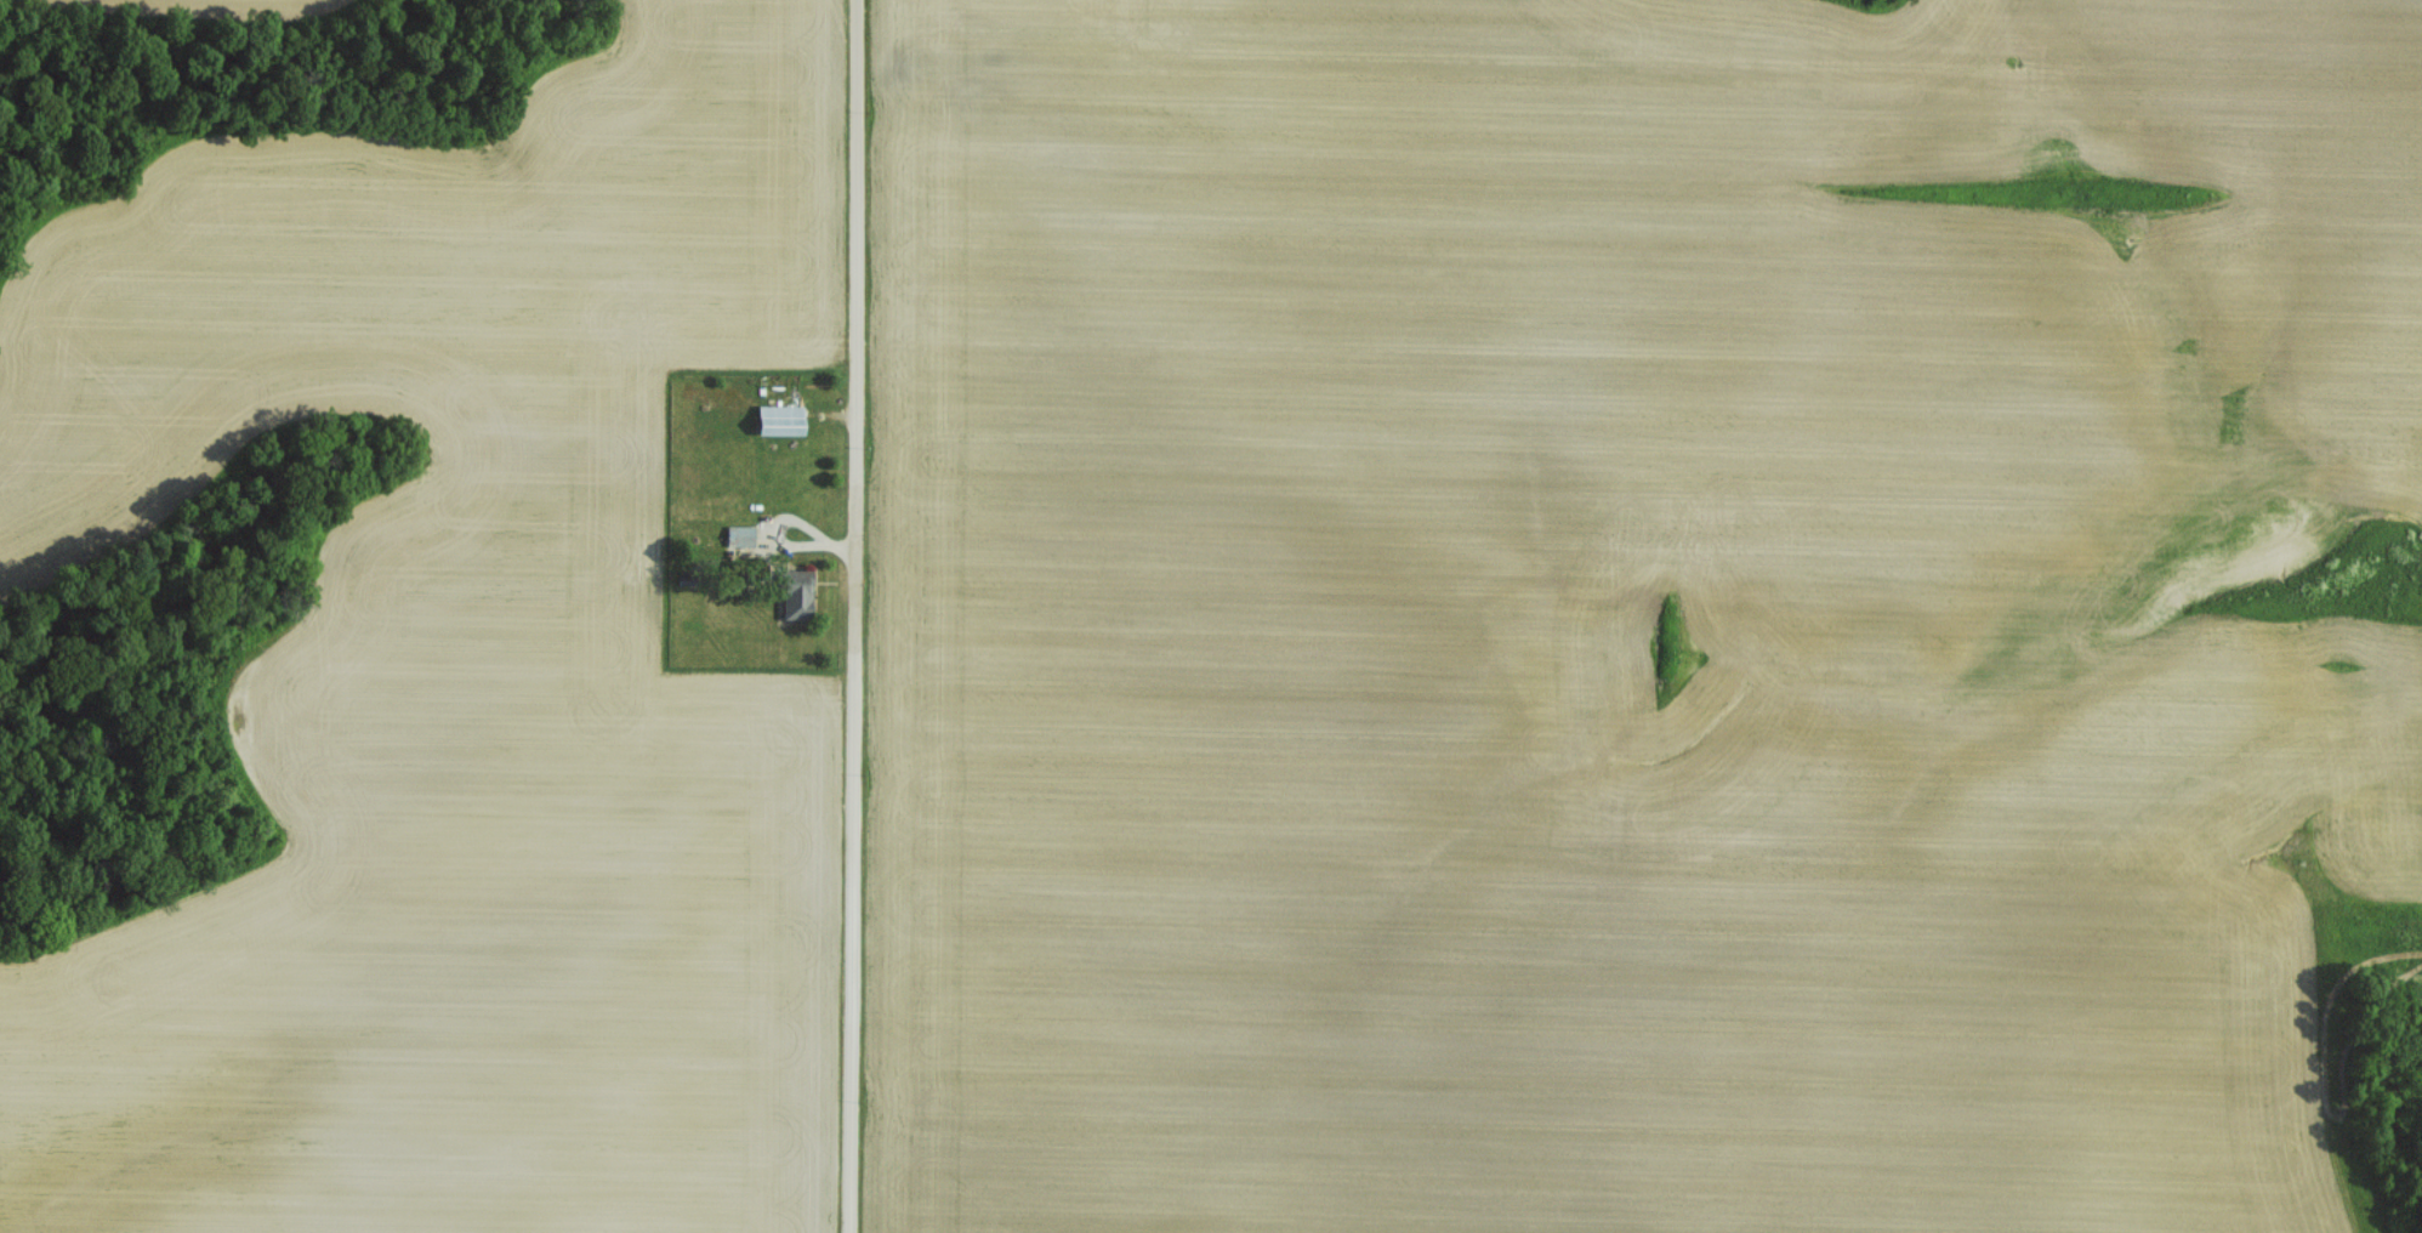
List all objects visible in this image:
building: (777, 417)
building: (739, 534)
building: (794, 590)
road: (858, 616)

